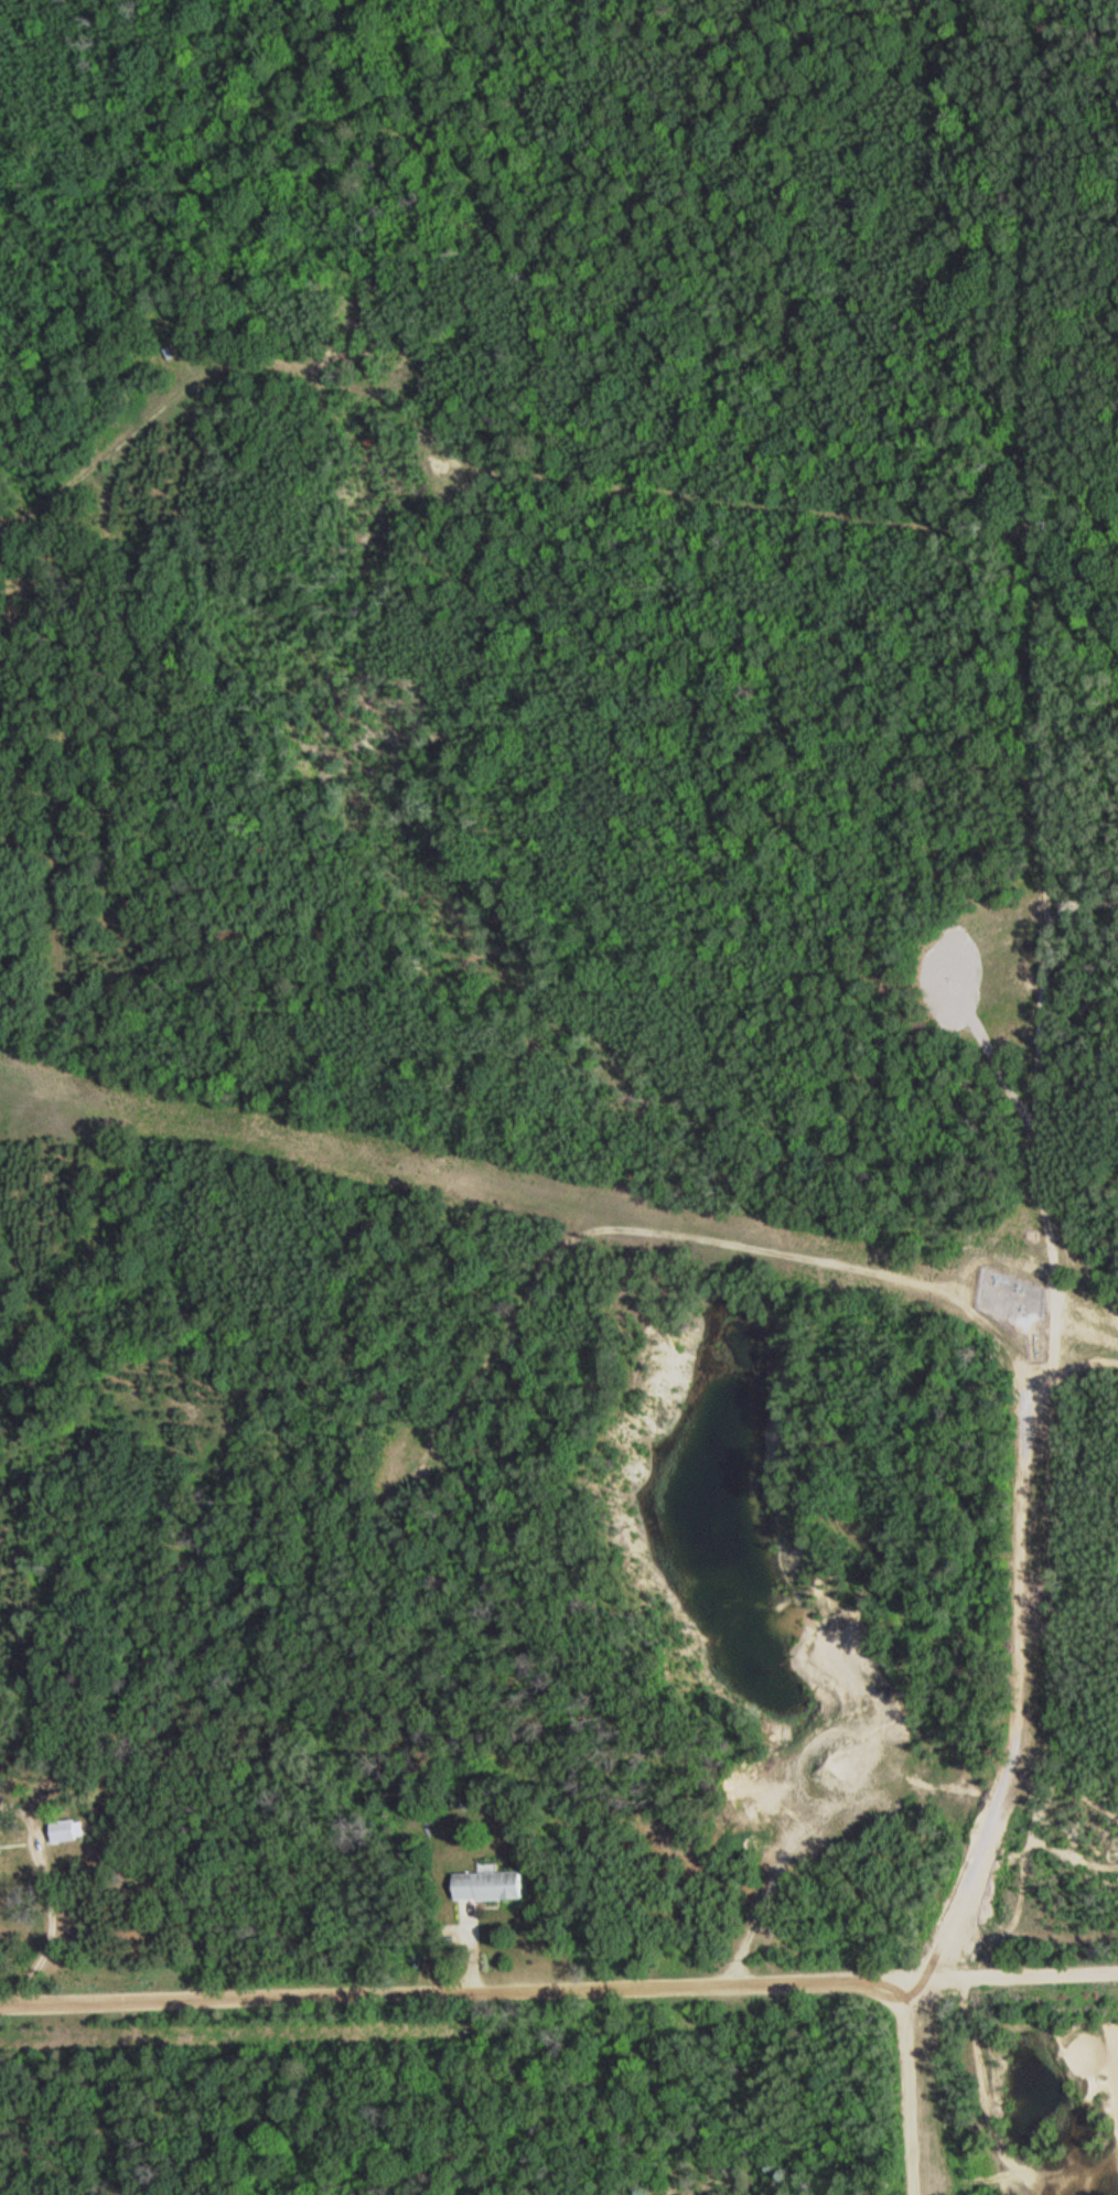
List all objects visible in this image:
road: (1078, 36)
road: (1041, 634)
road: (1082, 1269)
road: (1025, 1719)
building: (57, 1831)
building: (480, 1886)
road: (559, 1991)

